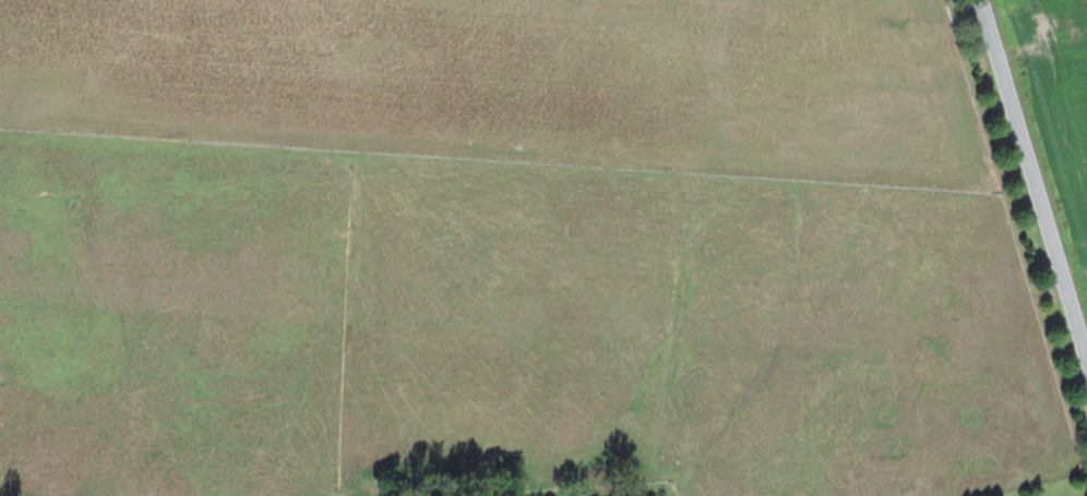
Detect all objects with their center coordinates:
road: (1034, 178)

